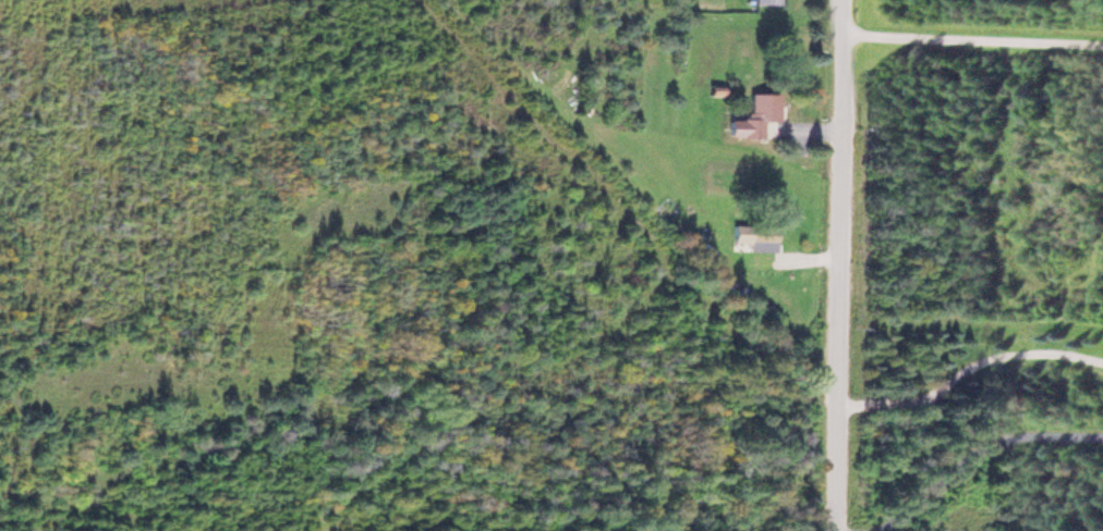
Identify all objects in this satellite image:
building: (762, 0)
road: (973, 42)
building: (752, 116)
building: (752, 234)
road: (841, 264)
road: (959, 428)

